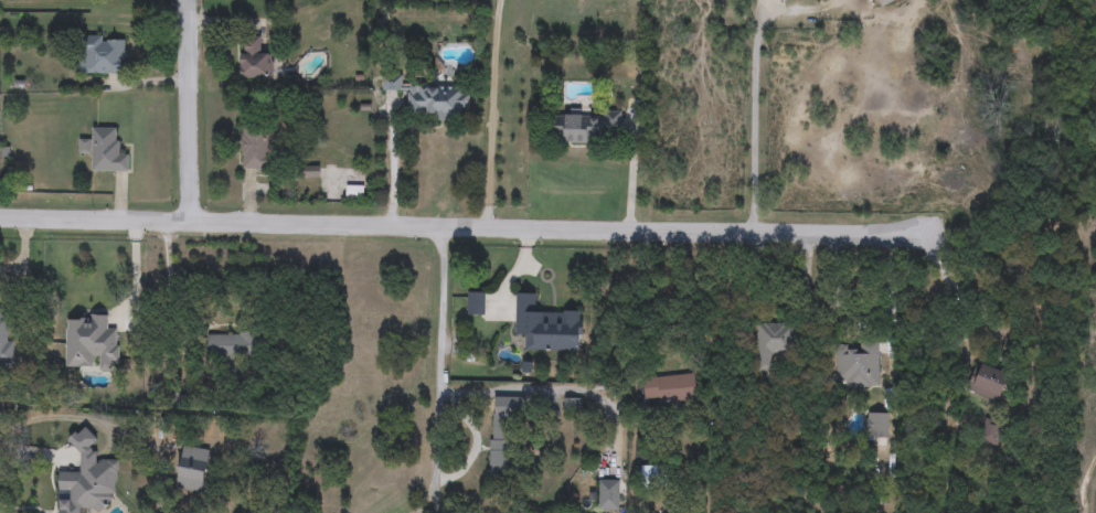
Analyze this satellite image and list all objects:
building: (784, 0)
building: (884, 2)
building: (102, 55)
building: (255, 58)
building: (430, 97)
road: (189, 110)
road: (490, 114)
road: (760, 120)
building: (587, 126)
building: (256, 150)
building: (105, 151)
road: (629, 171)
road: (461, 227)
road: (23, 269)
road: (958, 287)
road: (169, 292)
building: (477, 303)
road: (645, 303)
road: (859, 324)
building: (545, 325)
building: (3, 335)
building: (89, 342)
building: (773, 343)
building: (230, 345)
road: (436, 357)
building: (859, 366)
building: (990, 382)
building: (671, 391)
building: (876, 425)
building: (506, 432)
building: (991, 436)
building: (655, 475)
building: (88, 478)
building: (608, 494)
road: (432, 501)

